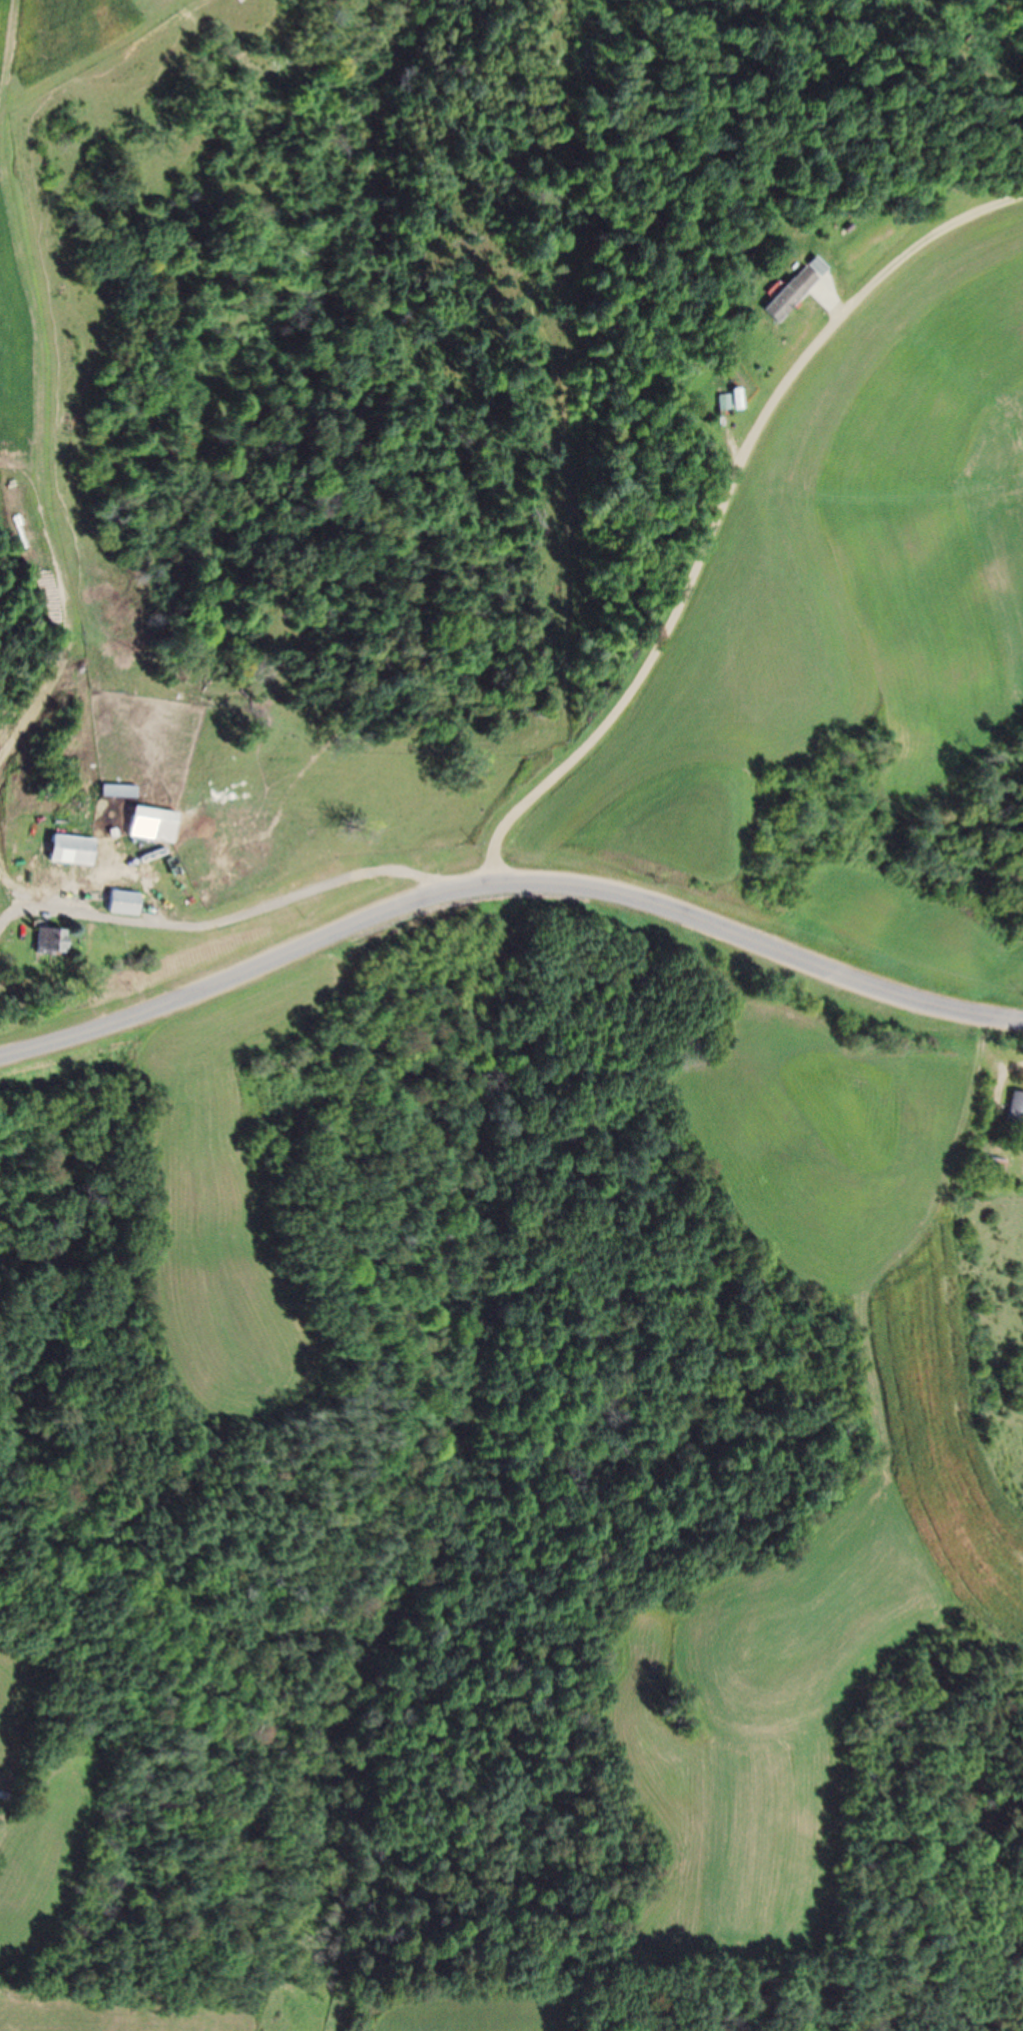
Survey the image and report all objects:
building: (788, 290)
building: (721, 402)
road: (716, 507)
building: (117, 790)
building: (147, 823)
building: (68, 849)
road: (506, 886)
building: (120, 902)
road: (224, 918)
building: (45, 941)
building: (1015, 1110)
building: (993, 1166)

